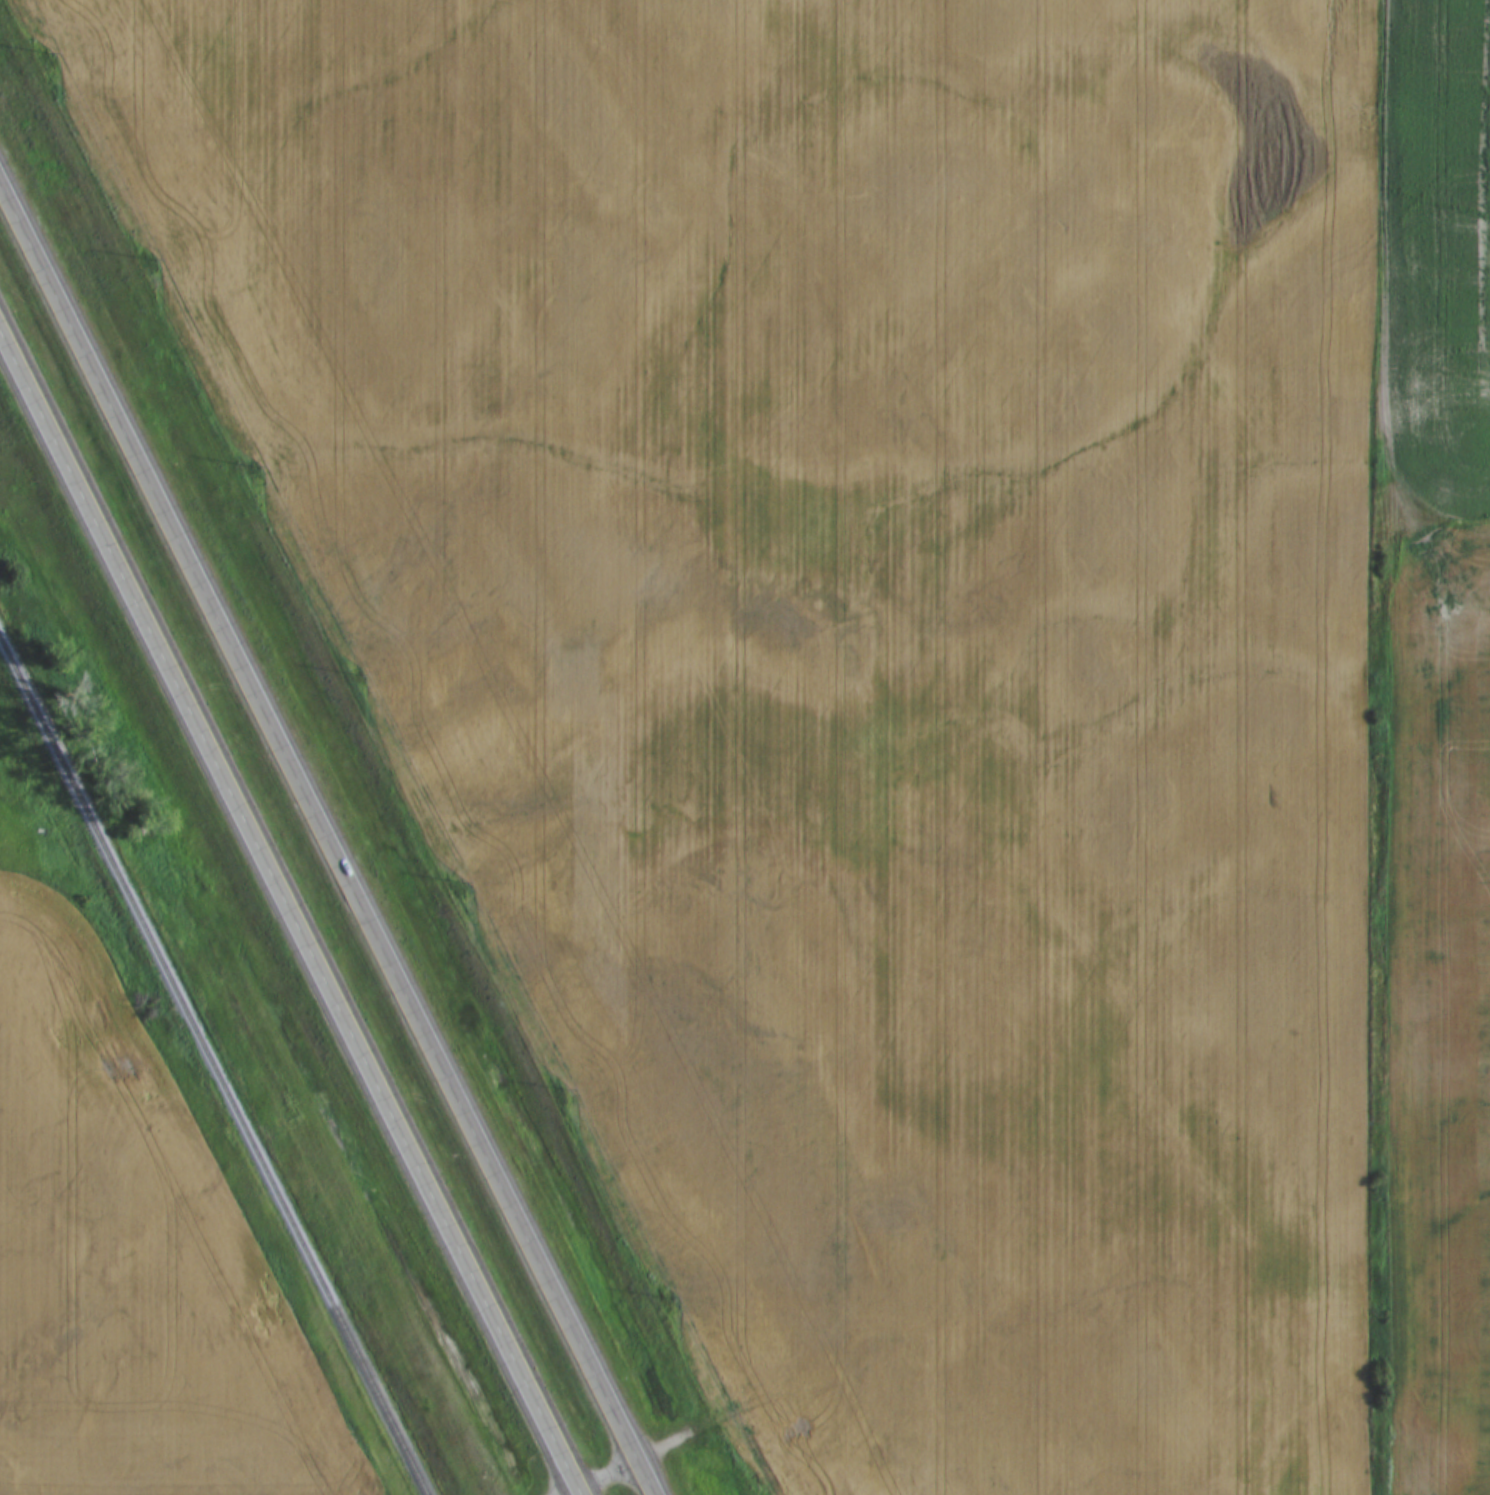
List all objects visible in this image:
road: (1375, 261)
road: (329, 834)
road: (291, 907)
railway: (213, 1067)
road: (610, 1474)
road: (577, 1493)

